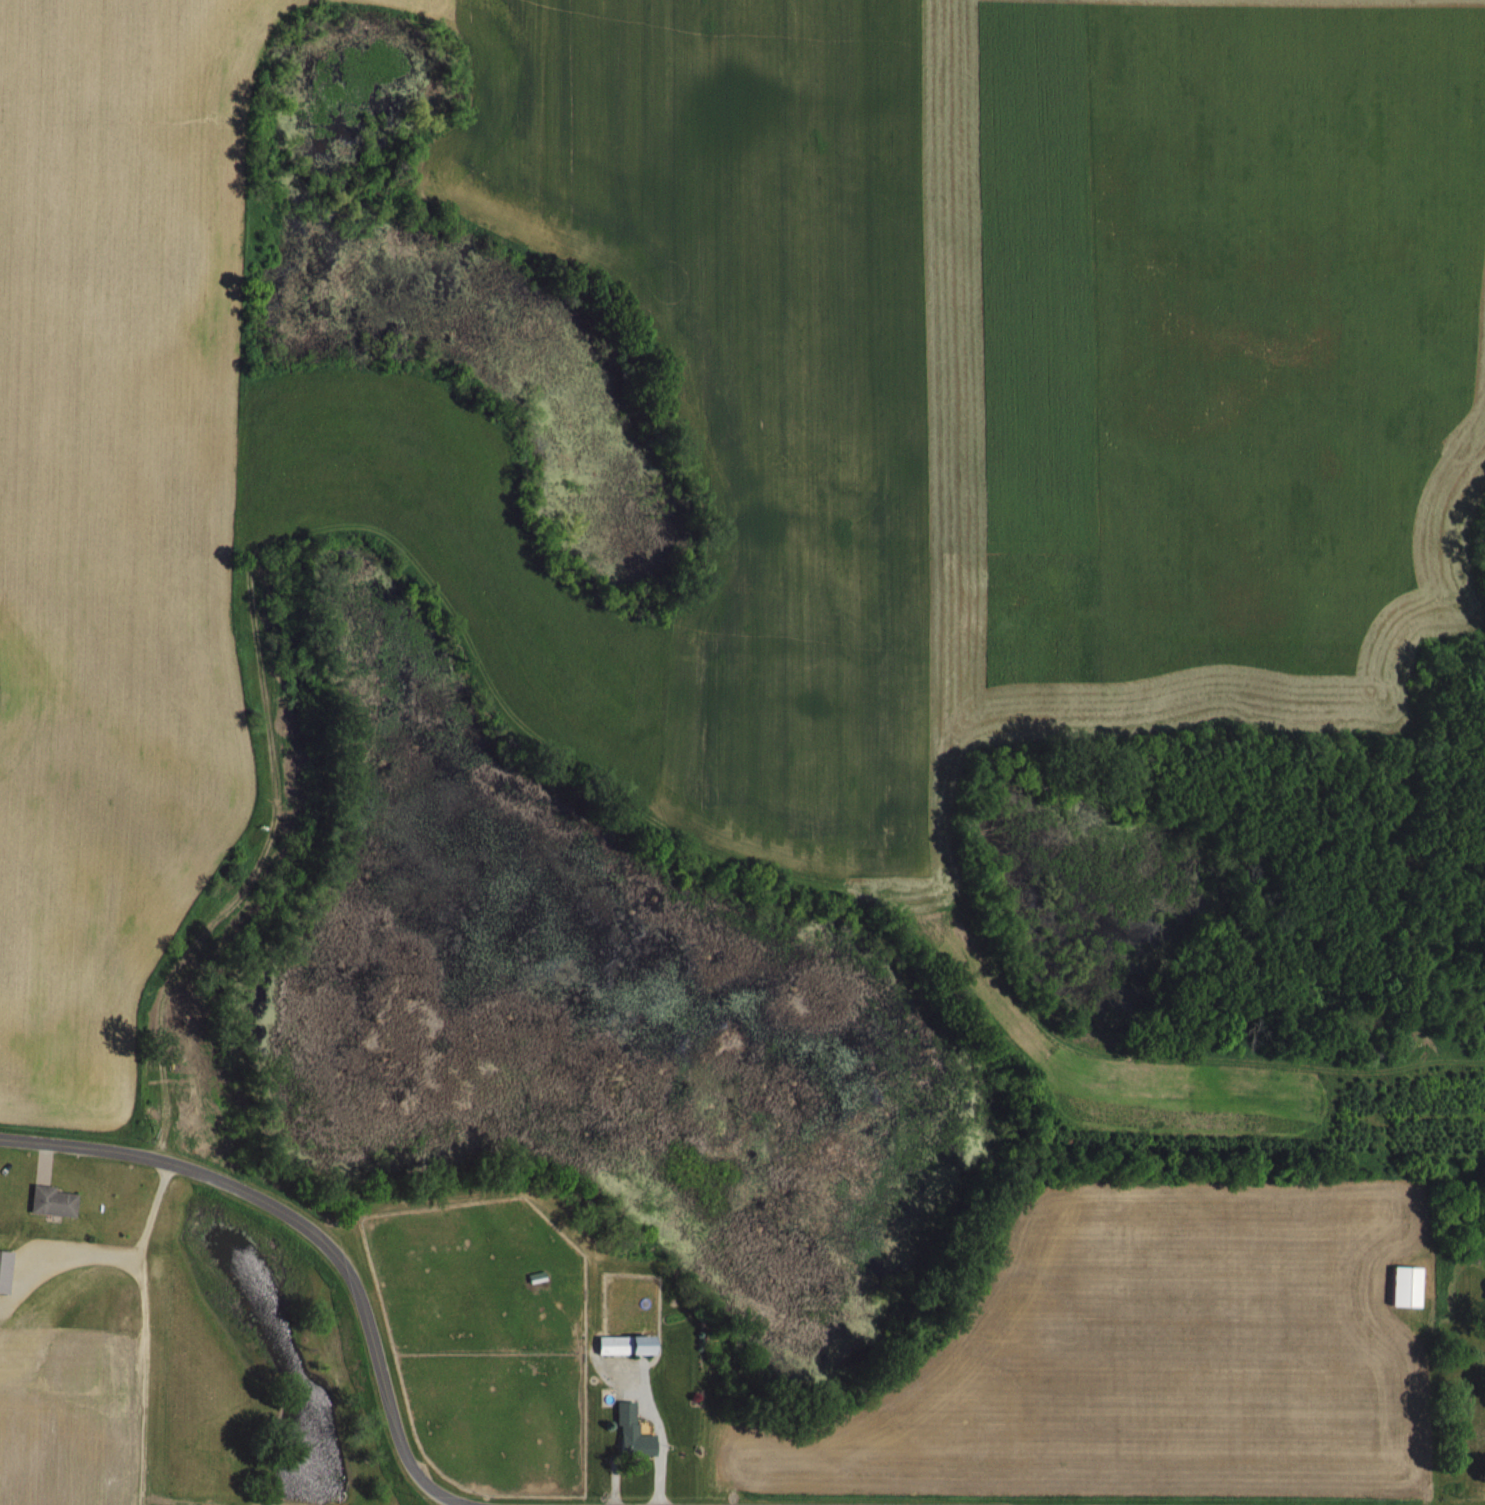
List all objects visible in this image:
building: (54, 1201)
road: (313, 1231)
building: (5, 1270)
building: (1410, 1286)
building: (630, 1345)
building: (636, 1433)

